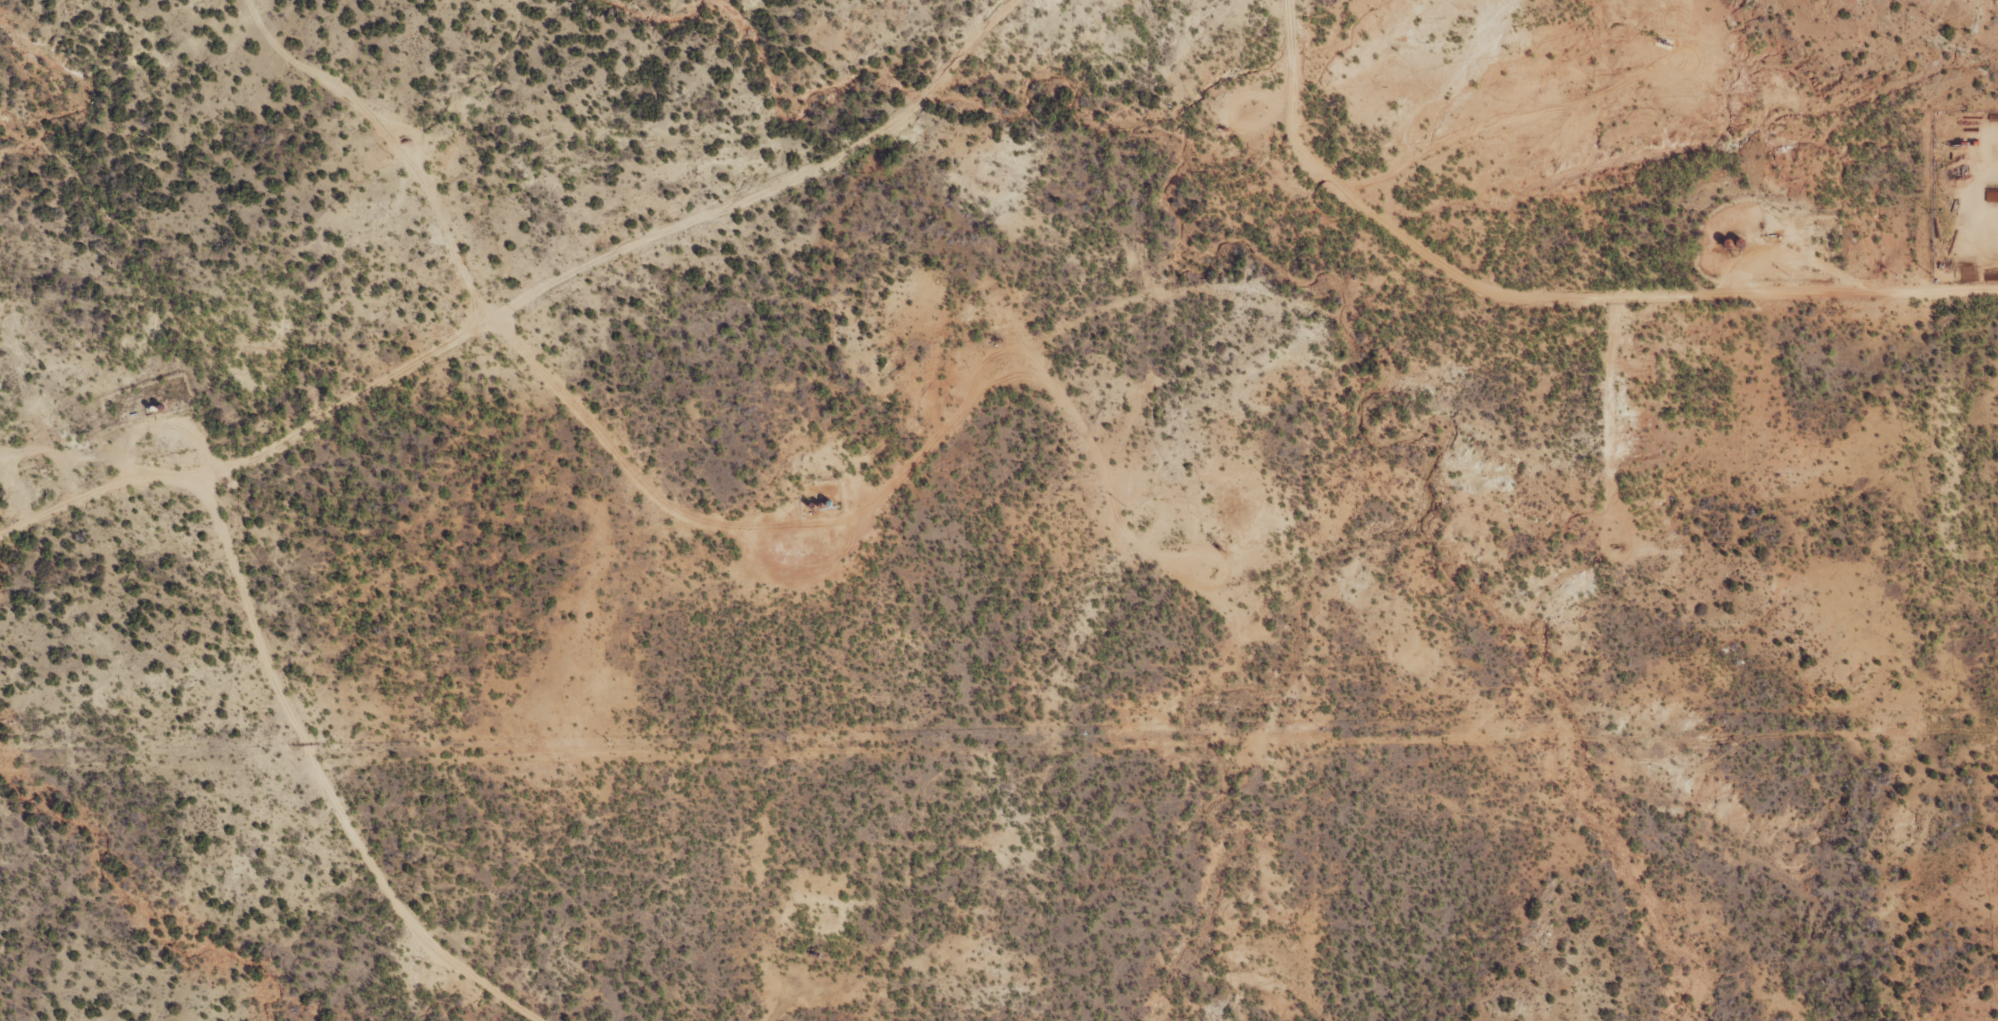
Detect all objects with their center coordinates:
road: (1532, 312)
road: (550, 325)
road: (628, 491)
road: (487, 1016)

